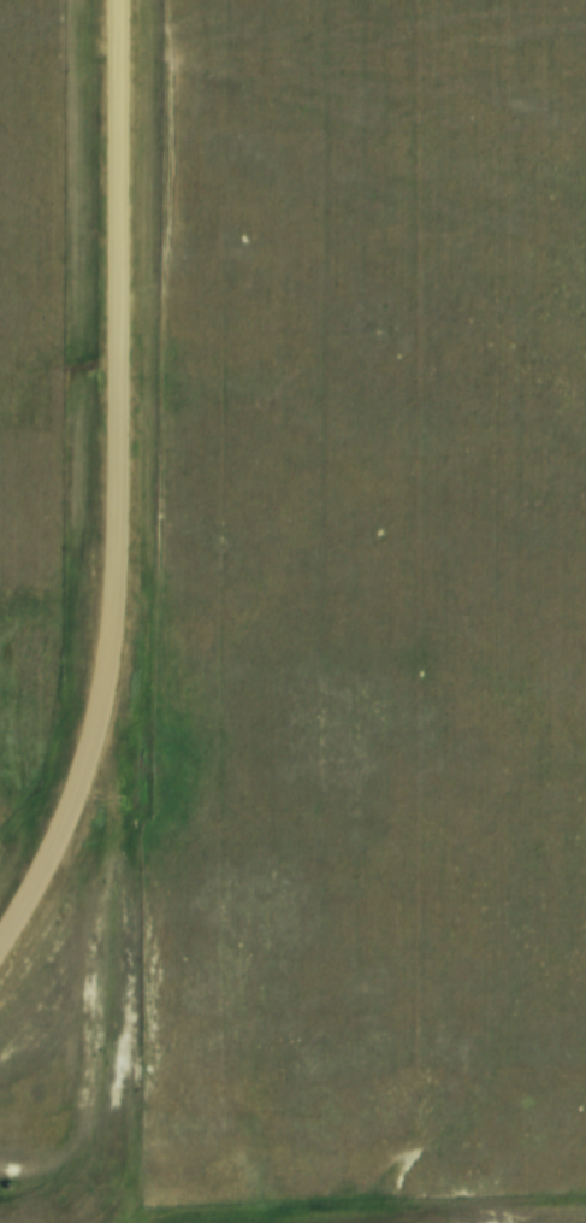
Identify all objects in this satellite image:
road: (117, 487)

